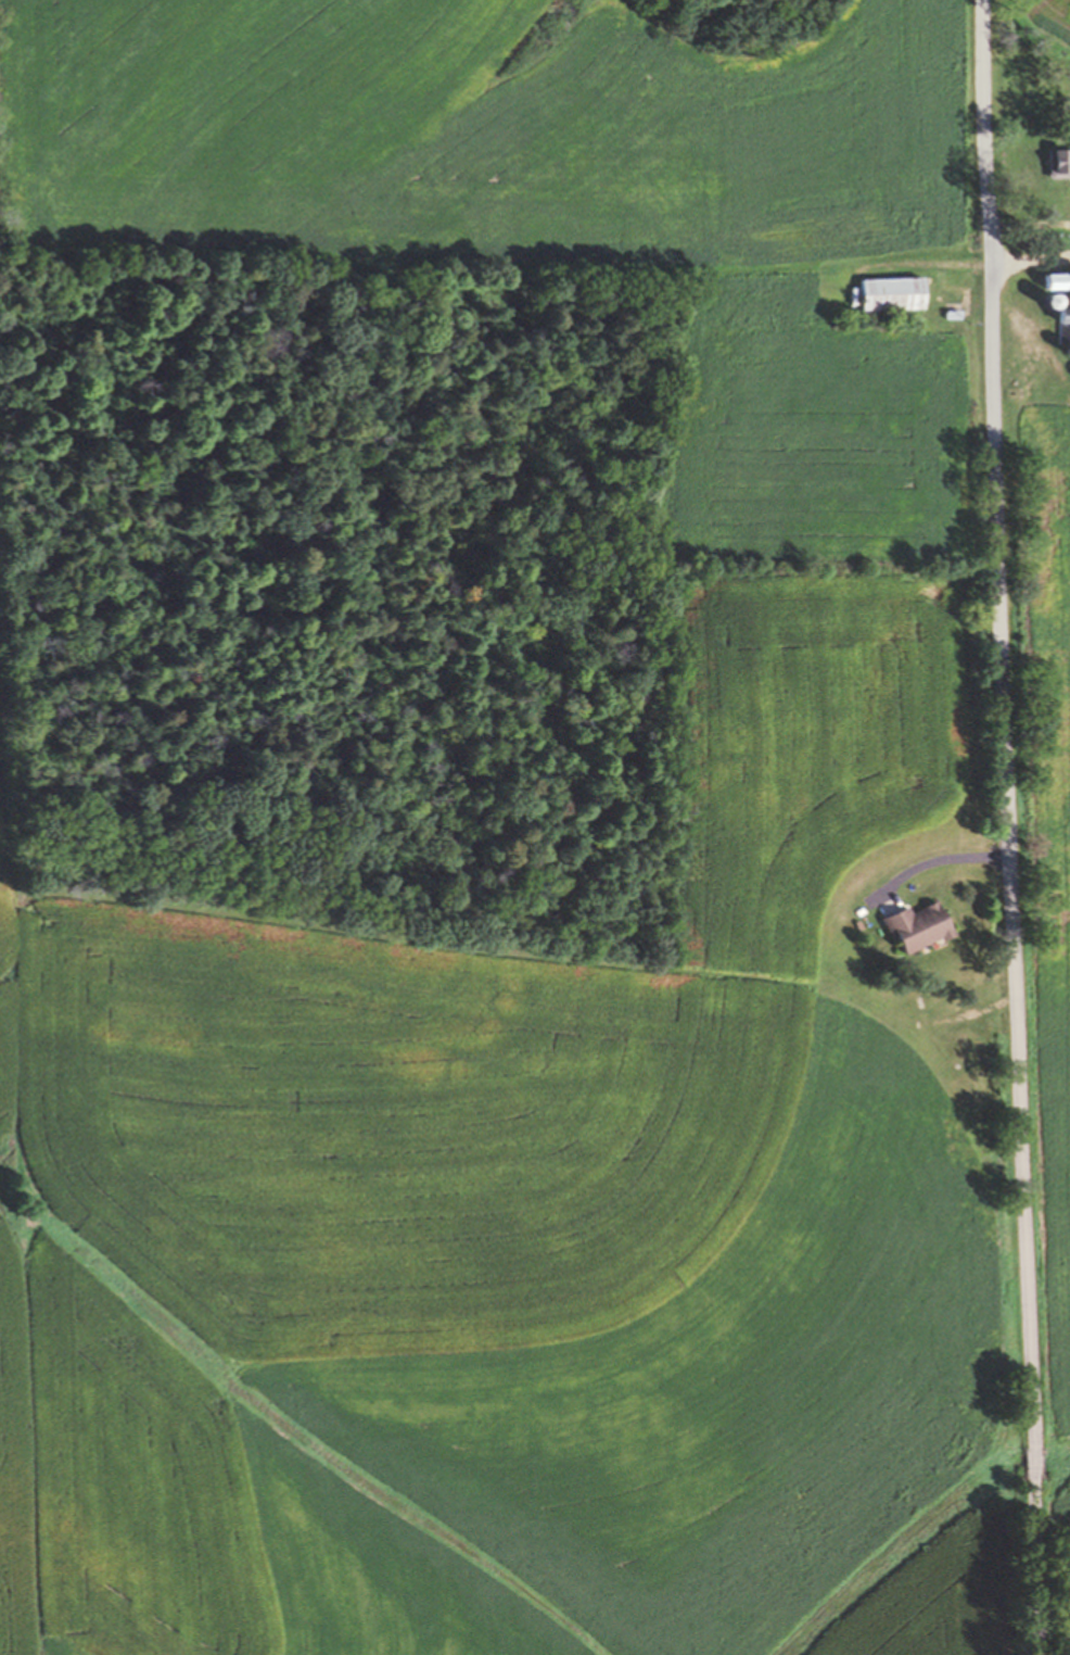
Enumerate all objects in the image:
building: (1057, 162)
road: (1029, 263)
building: (890, 292)
building: (1058, 306)
building: (952, 314)
road: (1005, 827)
road: (934, 859)
building: (914, 925)

